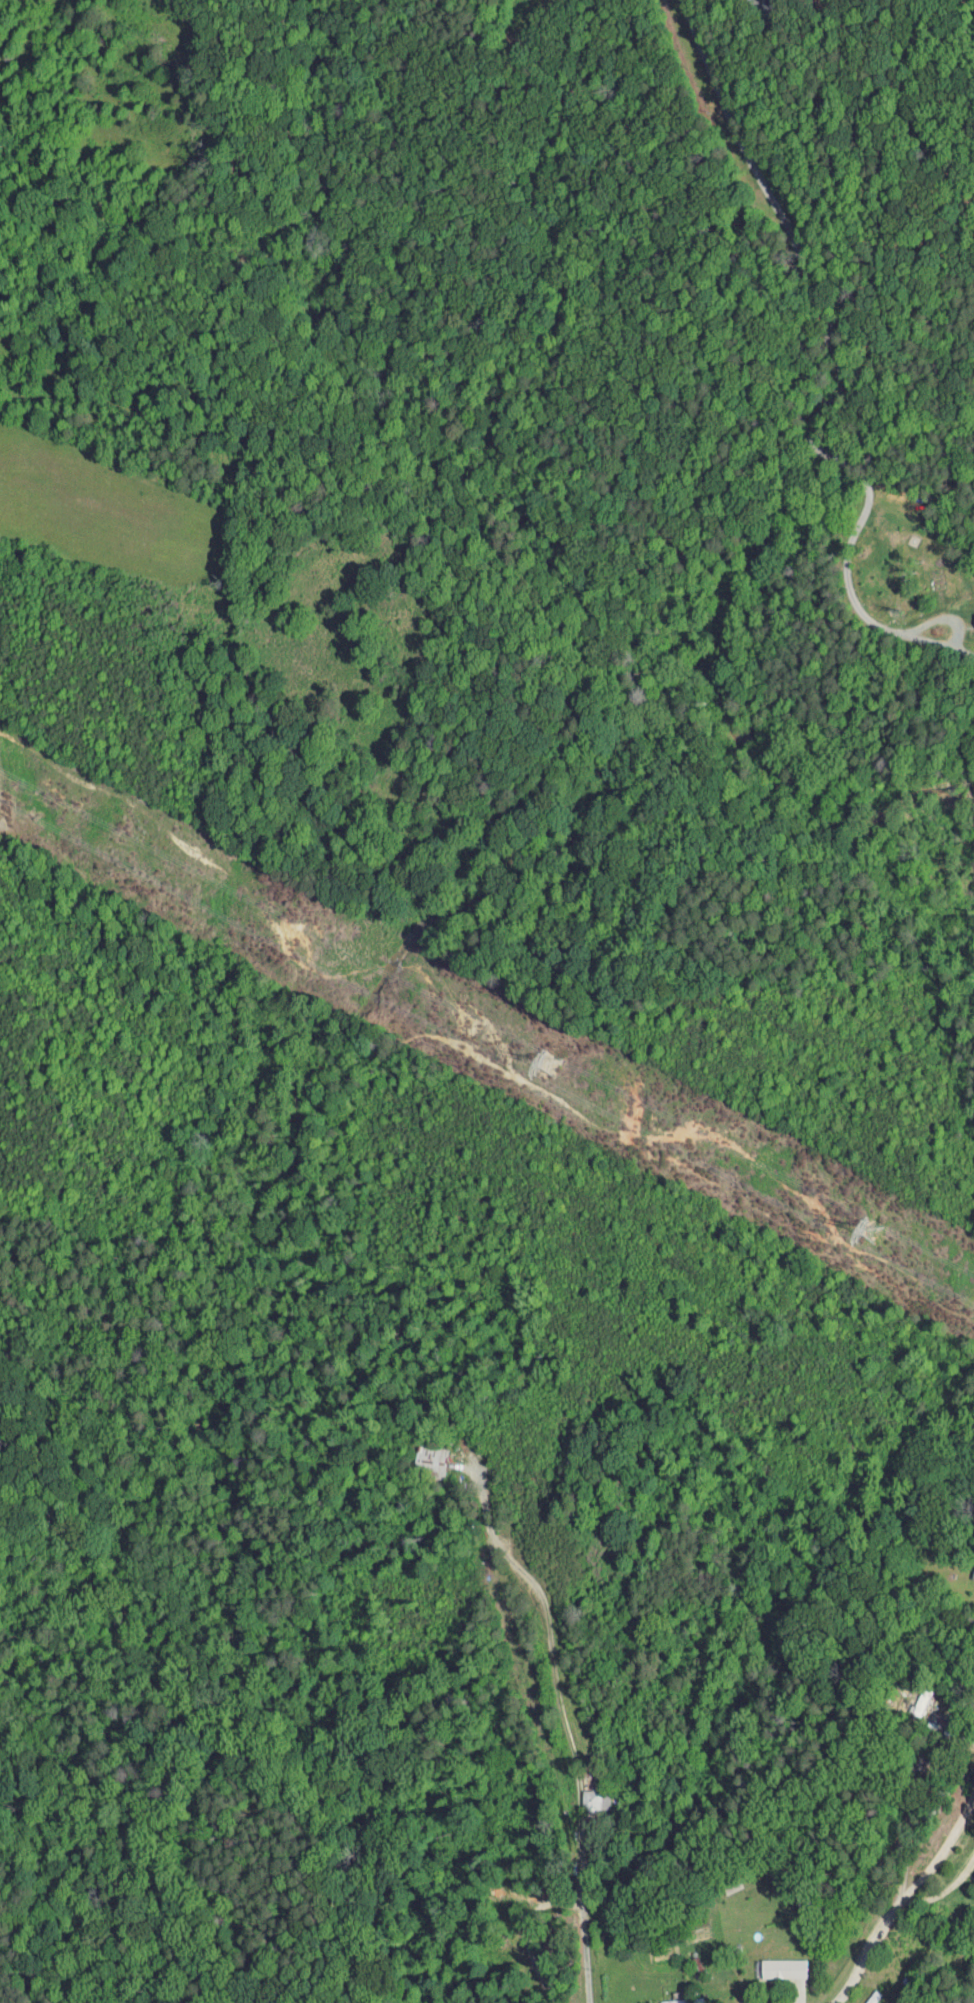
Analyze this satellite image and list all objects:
road: (701, 40)
road: (815, 438)
building: (970, 611)
power tower: (552, 1067)
power tower: (876, 1234)
building: (966, 1569)
building: (911, 1696)
road: (562, 1716)
building: (583, 1795)
road: (899, 1904)
building: (770, 1963)

